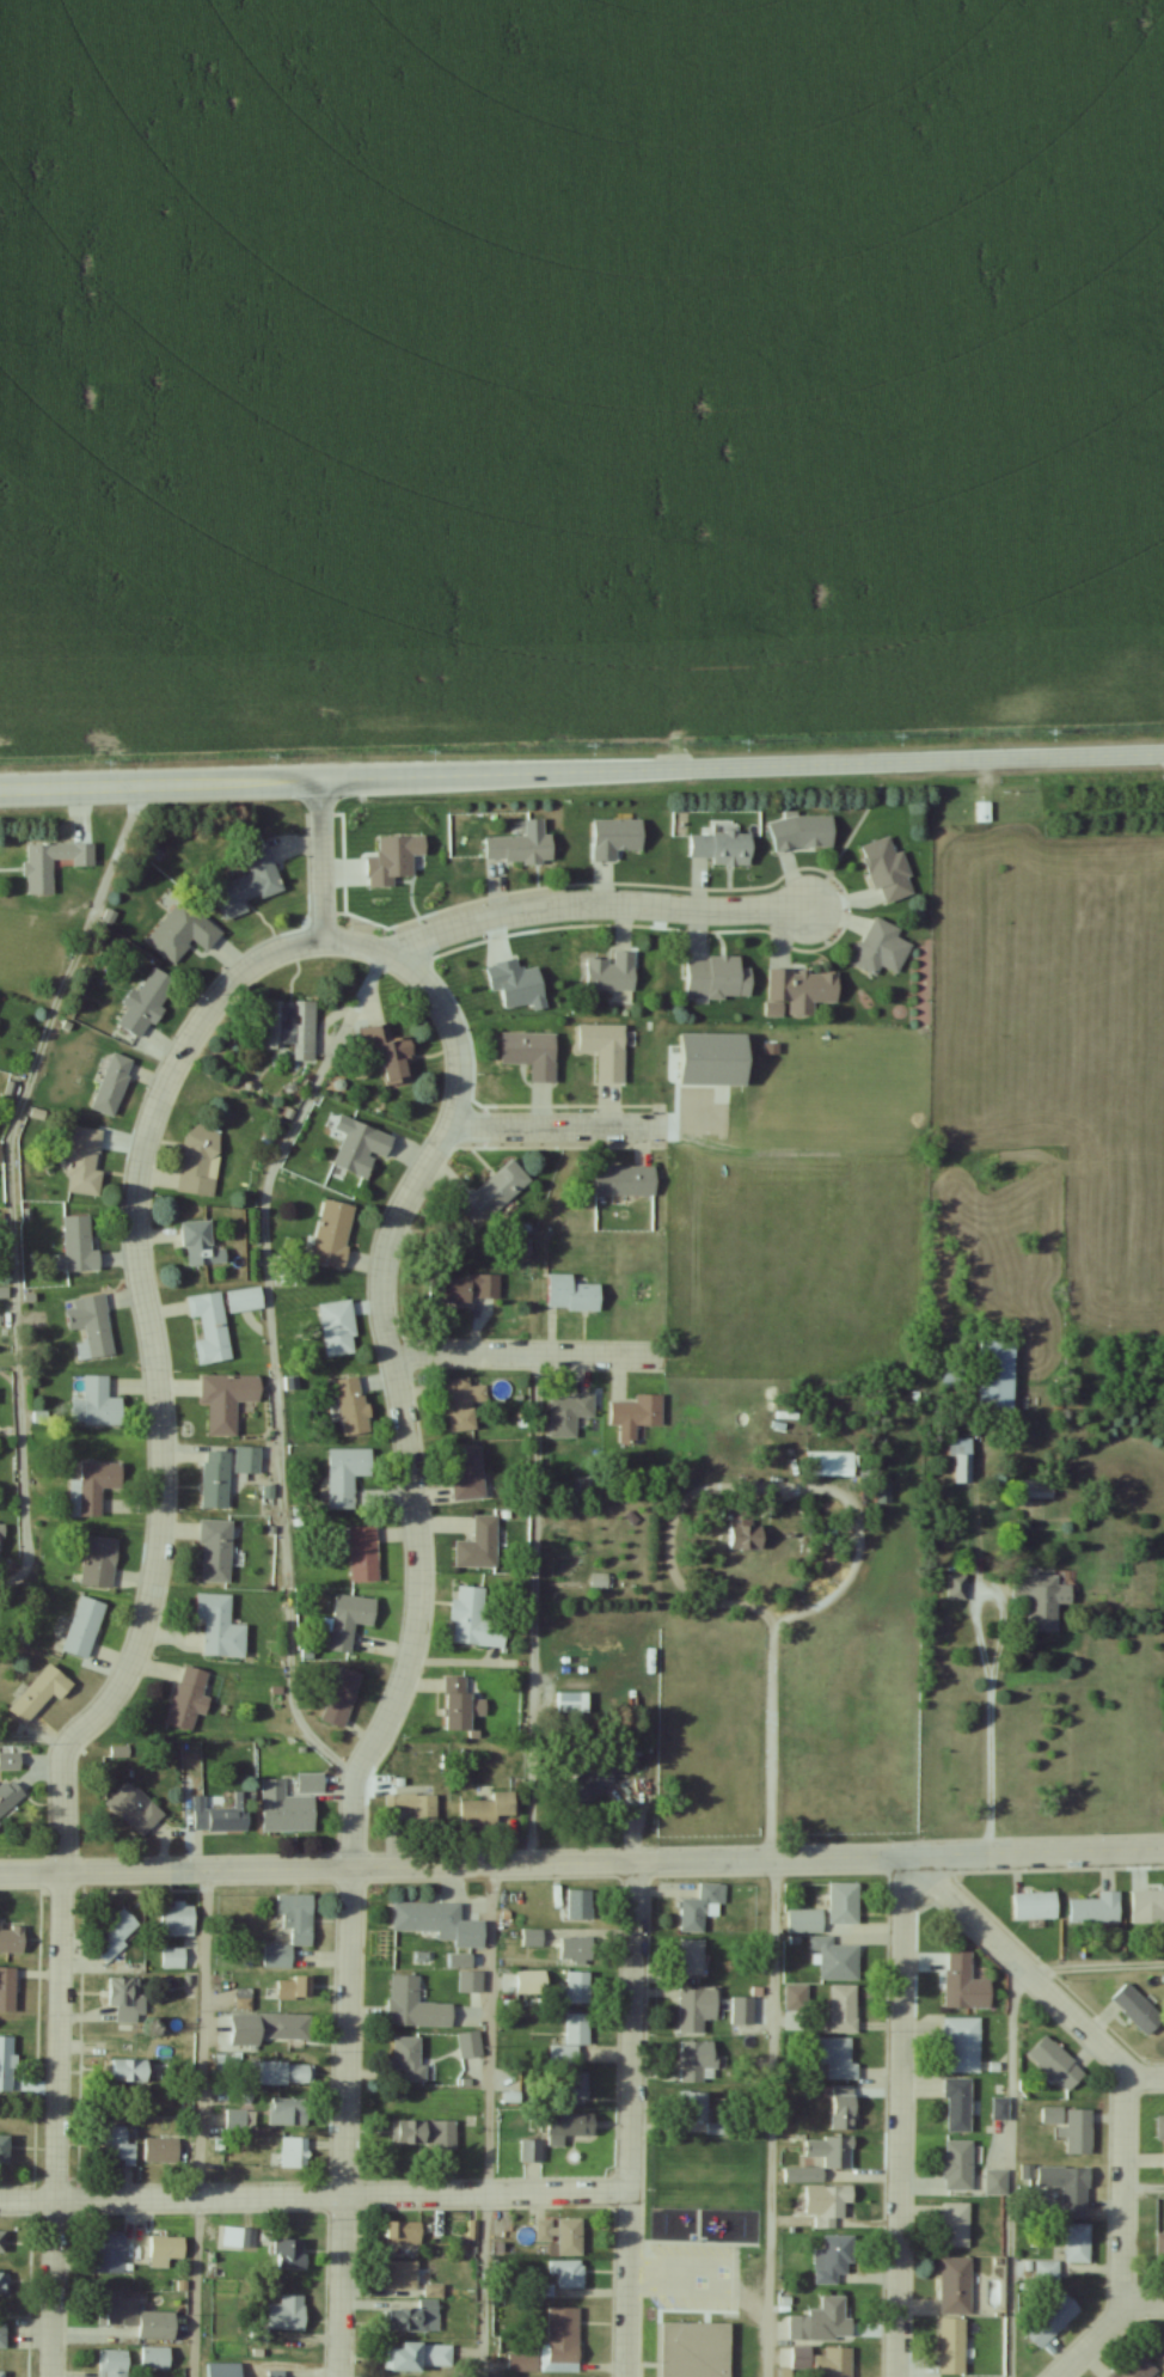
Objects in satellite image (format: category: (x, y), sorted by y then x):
road: (896, 762)
road: (473, 774)
road: (158, 780)
building: (984, 812)
building: (803, 833)
building: (617, 837)
building: (522, 845)
building: (722, 847)
road: (319, 858)
building: (394, 858)
building: (51, 863)
building: (889, 870)
building: (250, 885)
road: (593, 906)
building: (183, 933)
building: (882, 949)
building: (612, 972)
building: (717, 977)
building: (517, 984)
building: (803, 985)
building: (146, 1003)
building: (290, 1027)
building: (606, 1050)
building: (532, 1053)
building: (391, 1055)
building: (112, 1083)
road: (551, 1128)
building: (362, 1149)
building: (200, 1161)
building: (85, 1162)
road: (16, 1179)
building: (625, 1180)
building: (494, 1194)
building: (333, 1233)
building: (200, 1244)
building: (79, 1245)
building: (473, 1288)
building: (572, 1294)
building: (246, 1300)
building: (91, 1326)
building: (210, 1327)
building: (338, 1328)
road: (519, 1354)
road: (271, 1361)
building: (998, 1374)
road: (154, 1379)
building: (227, 1399)
building: (100, 1403)
building: (464, 1403)
building: (353, 1406)
building: (568, 1413)
building: (637, 1416)
building: (247, 1459)
building: (963, 1459)
building: (467, 1473)
building: (347, 1474)
building: (215, 1480)
building: (93, 1486)
road: (759, 1487)
building: (1036, 1492)
building: (746, 1533)
building: (0, 1541)
building: (479, 1545)
building: (216, 1550)
building: (363, 1553)
building: (99, 1560)
building: (600, 1581)
building: (957, 1588)
building: (1043, 1600)
road: (533, 1608)
road: (413, 1615)
building: (350, 1620)
building: (474, 1620)
building: (220, 1626)
building: (82, 1627)
road: (968, 1627)
building: (39, 1693)
building: (342, 1695)
building: (189, 1699)
building: (461, 1704)
road: (771, 1742)
building: (10, 1761)
road: (987, 1768)
building: (311, 1783)
building: (588, 1784)
building: (10, 1794)
building: (134, 1808)
building: (411, 1808)
building: (286, 1809)
building: (488, 1810)
building: (221, 1814)
road: (581, 1862)
building: (844, 1904)
building: (580, 1905)
building: (699, 1906)
building: (1147, 1907)
building: (1035, 1908)
building: (1097, 1909)
building: (429, 1919)
building: (178, 1920)
building: (804, 1921)
building: (292, 1930)
building: (117, 1933)
building: (12, 1939)
building: (577, 1949)
building: (174, 1957)
building: (692, 1957)
building: (837, 1959)
road: (1095, 1967)
building: (531, 1984)
building: (964, 1984)
building: (577, 1987)
building: (7, 1990)
building: (299, 1990)
building: (125, 1999)
building: (416, 2005)
building: (697, 2009)
building: (845, 2009)
building: (1138, 2009)
building: (272, 2029)
building: (571, 2041)
building: (470, 2045)
building: (962, 2045)
building: (834, 2057)
building: (410, 2058)
building: (698, 2061)
building: (1058, 2063)
building: (6, 2064)
building: (128, 2071)
building: (287, 2074)
road: (1142, 2079)
road: (1123, 2088)
building: (574, 2089)
building: (958, 2106)
building: (693, 2107)
building: (844, 2108)
building: (1001, 2109)
building: (288, 2112)
building: (1053, 2115)
road: (629, 2118)
road: (770, 2118)
road: (899, 2118)
road: (489, 2120)
road: (200, 2122)
road: (54, 2125)
building: (1160, 2128)
building: (571, 2129)
building: (1078, 2131)
building: (425, 2134)
building: (118, 2146)
building: (5, 2149)
building: (161, 2149)
building: (532, 2151)
building: (831, 2151)
building: (295, 2153)
building: (958, 2165)
road: (1015, 2170)
road: (1141, 2188)
building: (1062, 2190)
road: (313, 2196)
building: (832, 2206)
building: (956, 2225)
building: (403, 2234)
building: (563, 2234)
building: (233, 2236)
building: (4, 2241)
building: (1079, 2243)
building: (166, 2249)
building: (1159, 2250)
building: (290, 2251)
building: (110, 2253)
building: (835, 2261)
building: (1047, 2271)
building: (569, 2272)
building: (403, 2274)
building: (4, 2283)
building: (956, 2286)
building: (435, 2289)
road: (1142, 2302)
building: (288, 2312)
building: (413, 2314)
building: (139, 2316)
building: (1053, 2321)
building: (823, 2323)
building: (4, 2333)
building: (563, 2336)
building: (954, 2346)
building: (697, 2348)
building: (421, 2355)
building: (157, 2357)
building: (523, 2361)
building: (114, 2363)
building: (835, 2363)
building: (1137, 2367)
building: (225, 2369)
building: (1, 2373)
building: (275, 2373)

